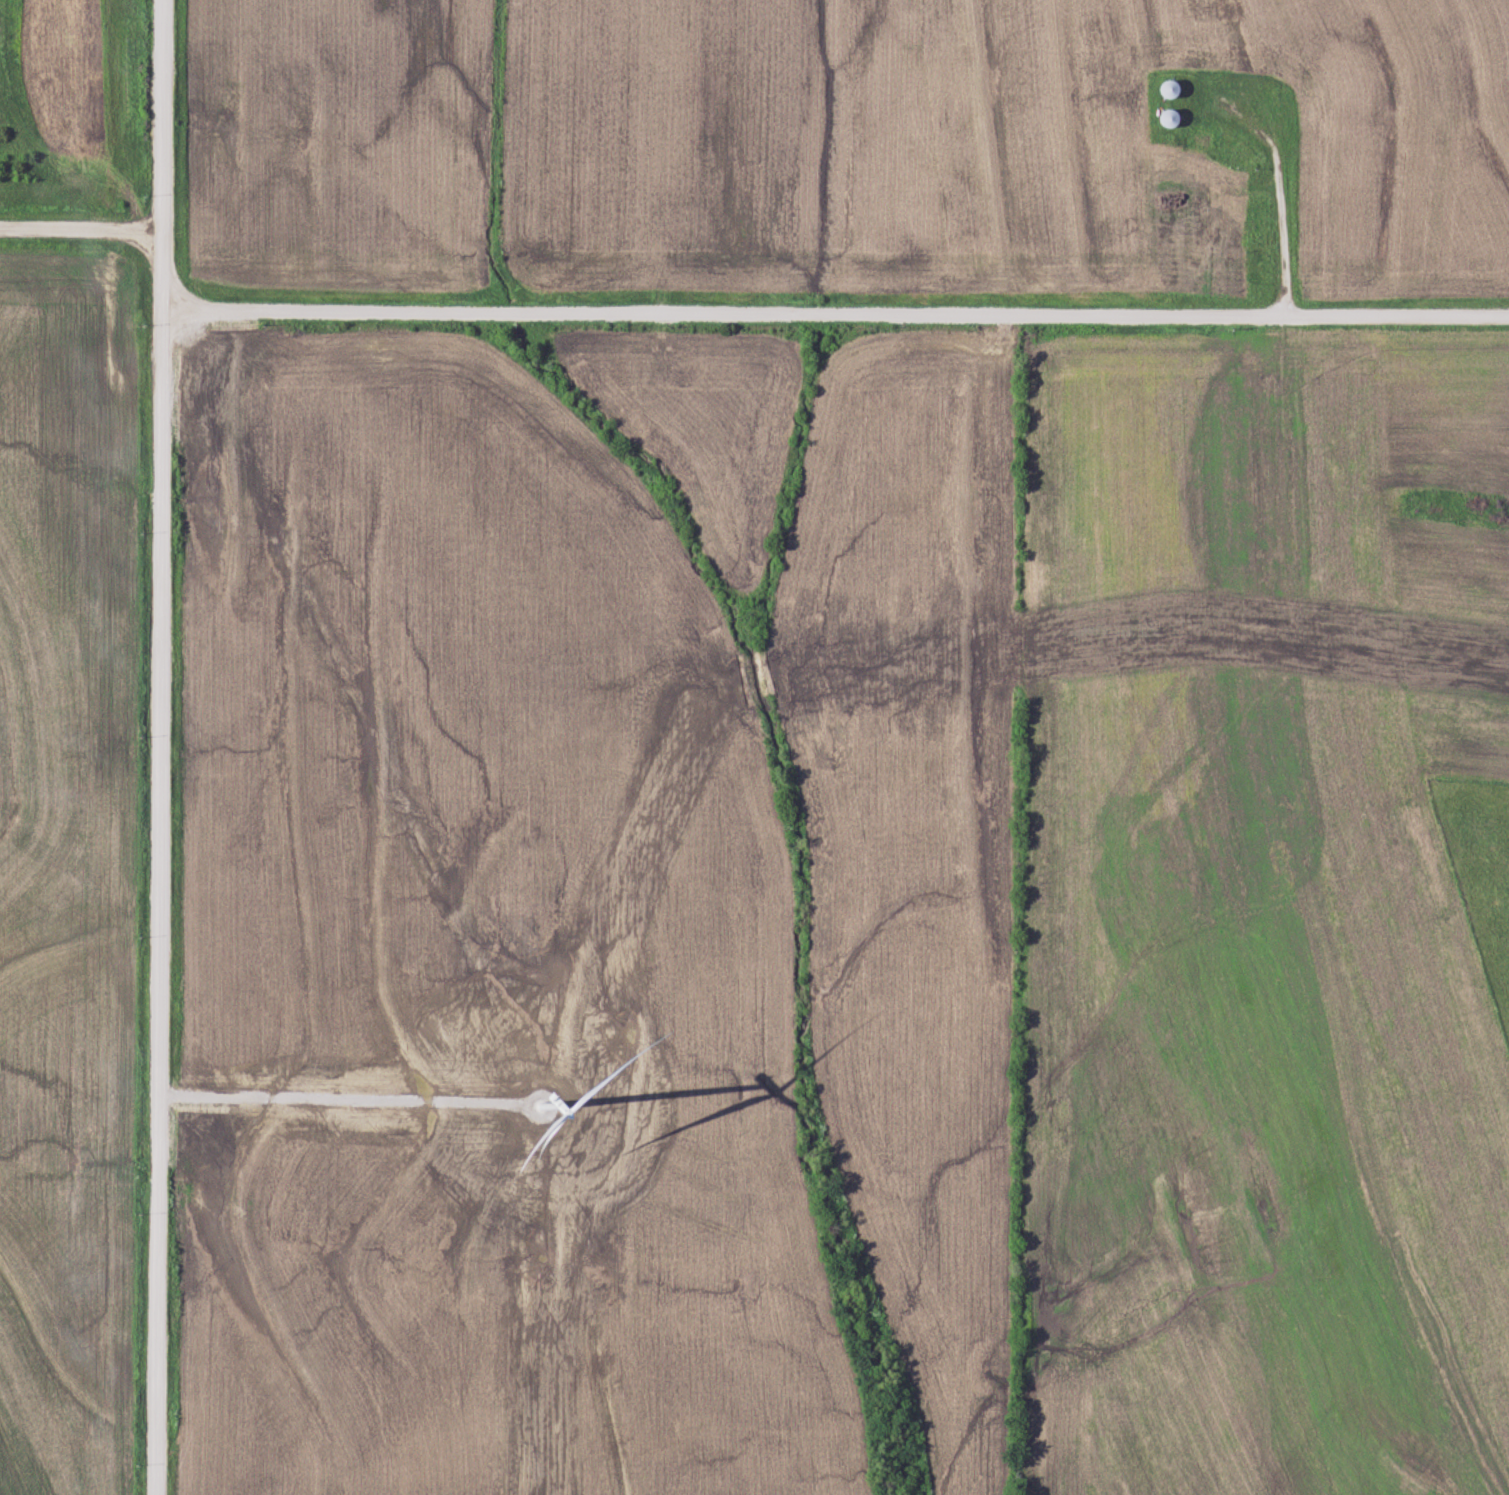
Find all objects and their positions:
building: (1163, 89)
building: (1163, 117)
building: (1198, 140)
road: (80, 230)
building: (1205, 231)
road: (830, 311)
road: (183, 320)
road: (158, 747)
wind turbine: (548, 1106)

